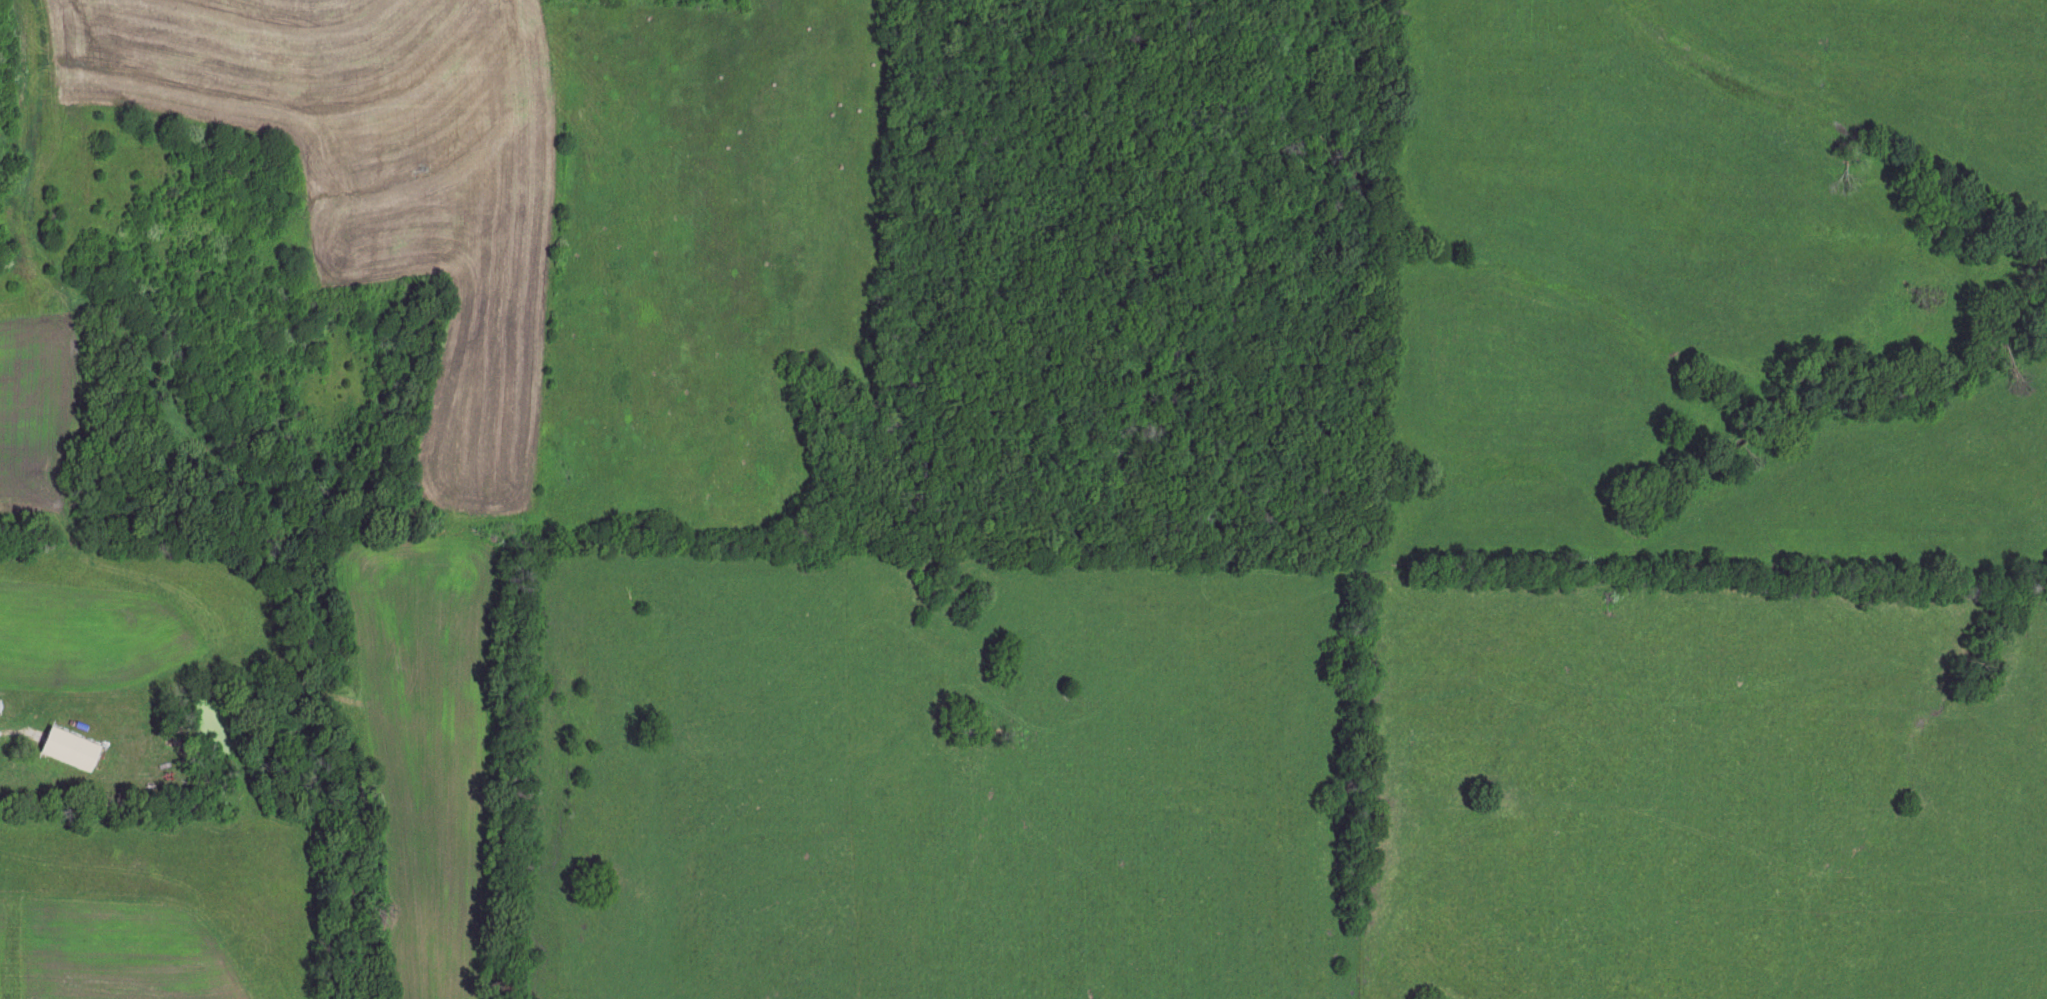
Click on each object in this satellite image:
building: (66, 750)

